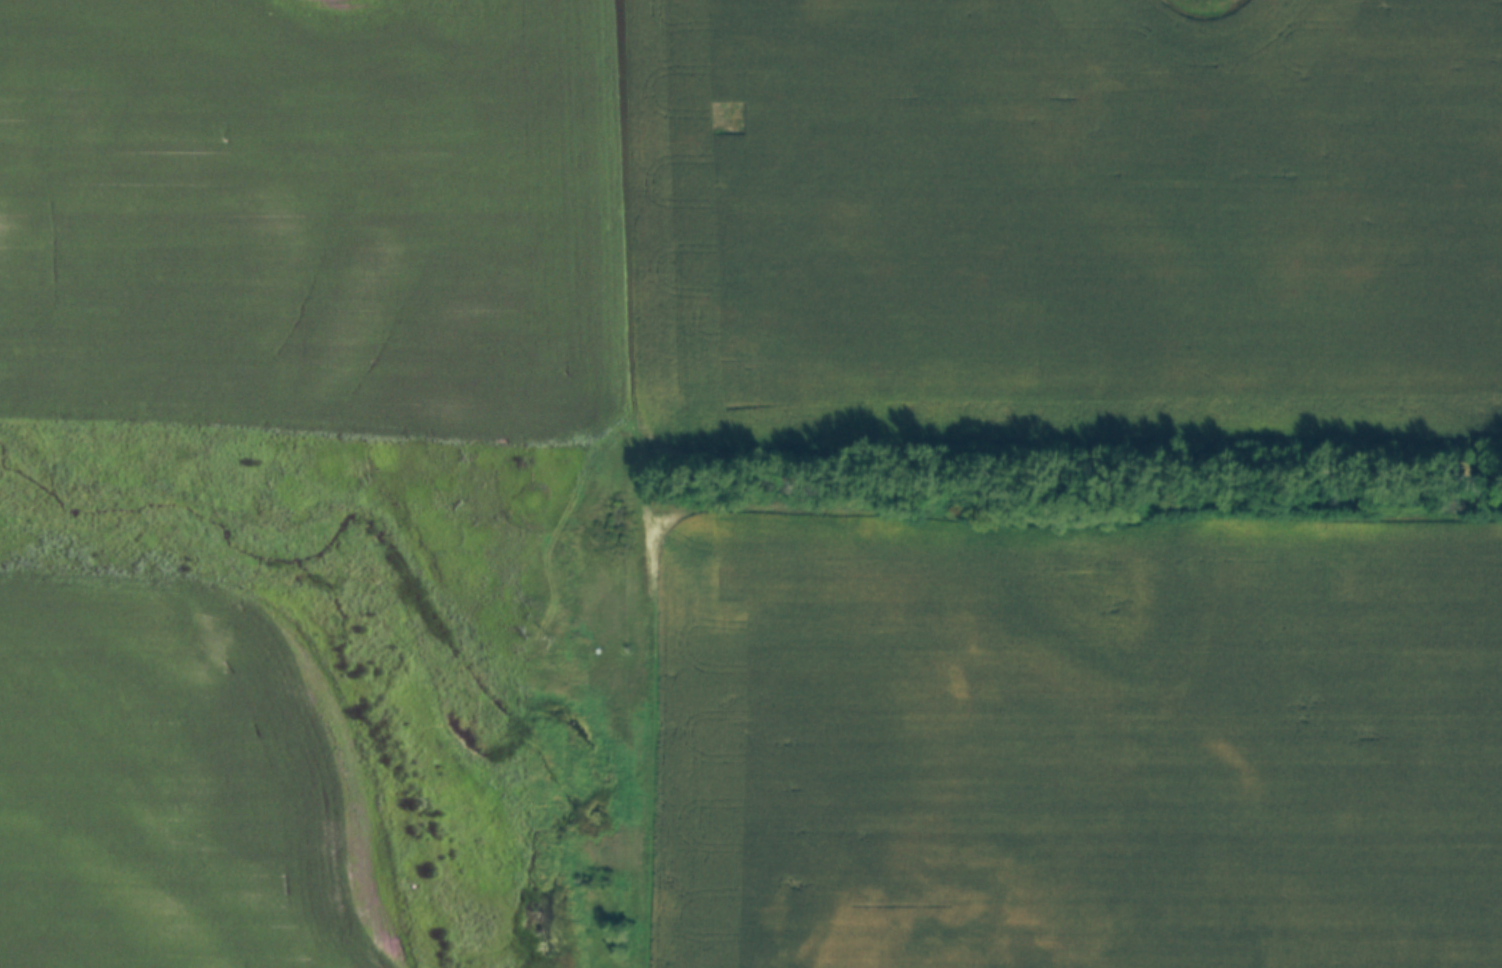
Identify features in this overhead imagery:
road: (644, 482)
river: (385, 615)

